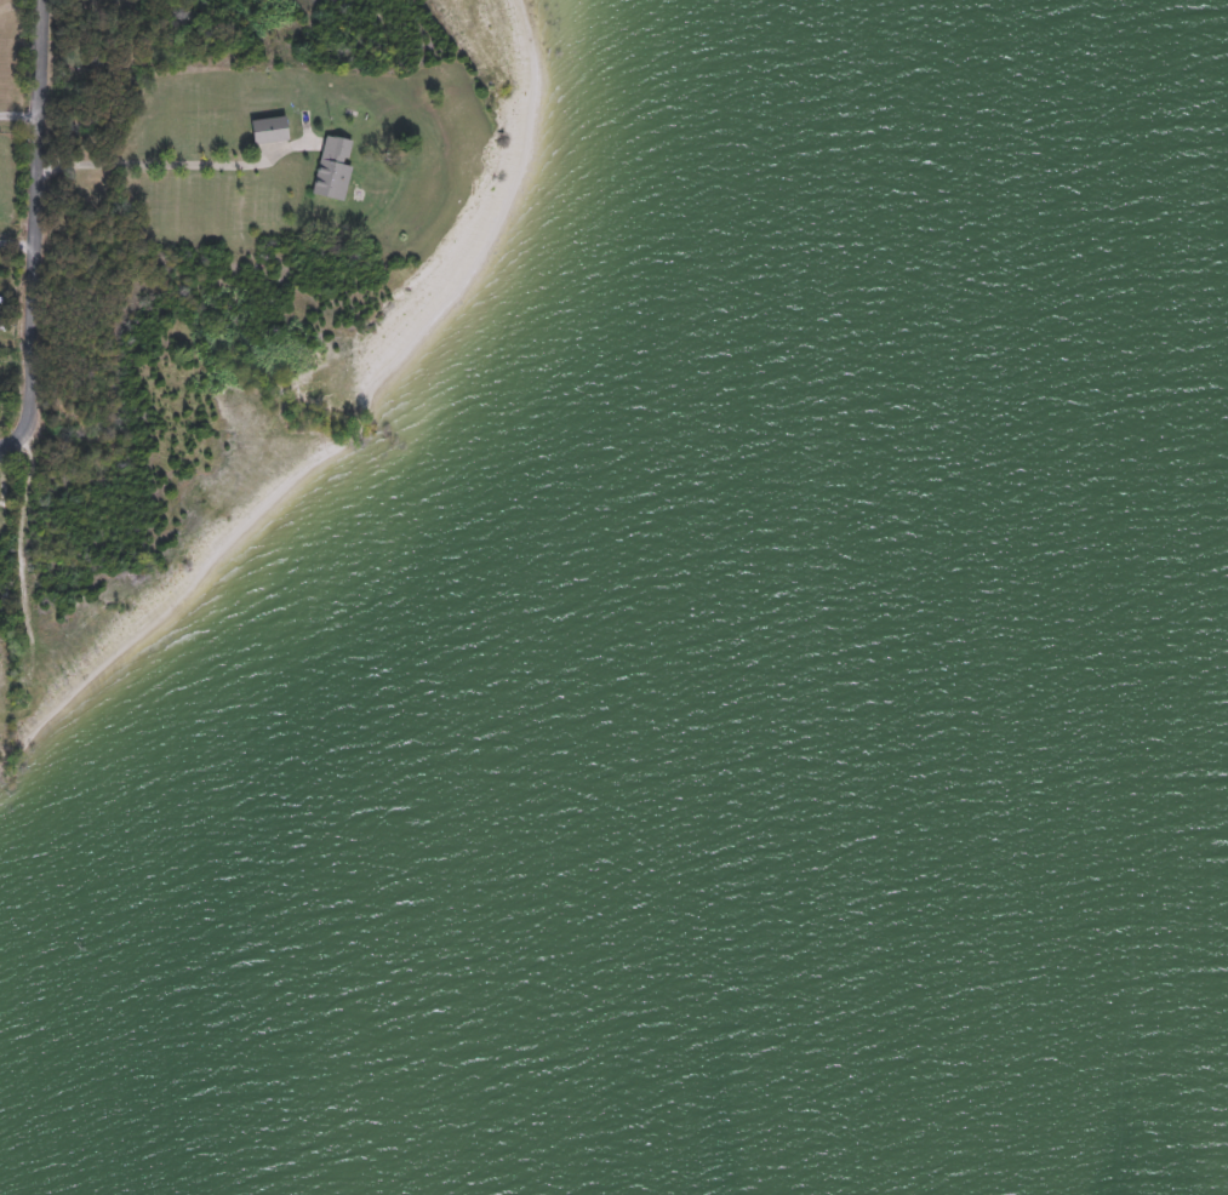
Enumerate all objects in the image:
road: (22, 7)
road: (19, 112)
building: (270, 131)
road: (173, 164)
building: (333, 168)
road: (35, 227)
road: (17, 240)

